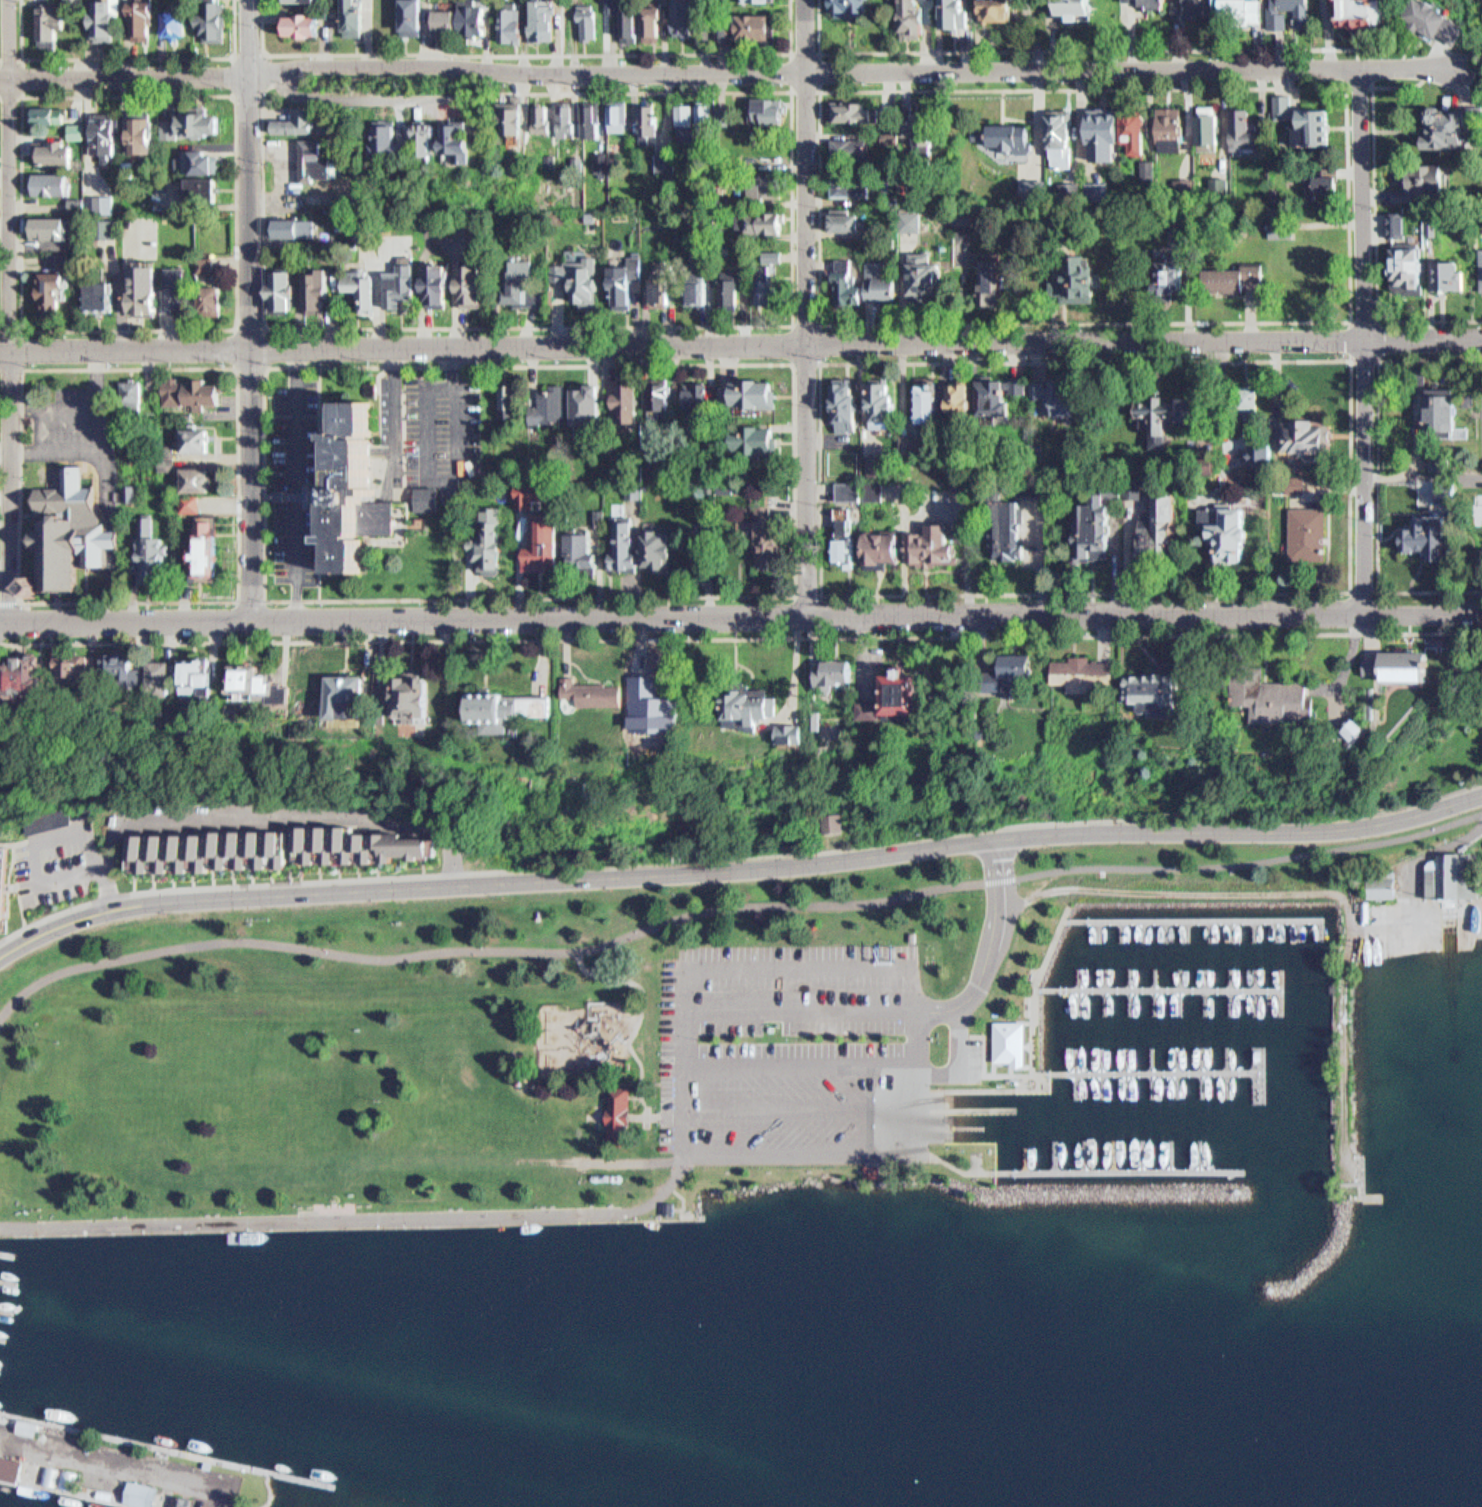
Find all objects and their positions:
building: (313, 1)
building: (765, 1)
building: (846, 4)
building: (1155, 5)
building: (1083, 6)
building: (1197, 9)
building: (1002, 10)
building: (1231, 10)
building: (944, 11)
building: (1370, 12)
building: (906, 14)
building: (961, 14)
building: (1299, 14)
building: (681, 15)
building: (582, 16)
building: (620, 16)
building: (421, 17)
building: (481, 17)
building: (539, 17)
building: (651, 17)
building: (363, 18)
building: (114, 20)
building: (751, 20)
building: (1455, 21)
building: (144, 22)
building: (454, 22)
building: (591, 22)
building: (54, 23)
building: (180, 23)
building: (509, 24)
building: (310, 25)
building: (219, 29)
building: (0, 32)
road: (1456, 46)
road: (1099, 48)
road: (527, 52)
road: (127, 57)
road: (1474, 66)
road: (732, 70)
road: (22, 76)
road: (1353, 80)
road: (819, 88)
road: (263, 89)
road: (363, 91)
building: (765, 106)
building: (847, 106)
building: (1288, 108)
building: (611, 112)
building: (540, 113)
building: (889, 114)
building: (48, 115)
building: (562, 115)
building: (587, 115)
building: (642, 117)
building: (682, 119)
building: (515, 120)
building: (571, 120)
building: (701, 120)
building: (924, 121)
building: (296, 122)
building: (196, 125)
building: (1209, 126)
building: (1322, 128)
building: (1173, 129)
building: (1249, 130)
building: (78, 131)
building: (982, 132)
building: (1463, 132)
building: (108, 134)
building: (144, 134)
building: (1122, 135)
building: (1064, 140)
building: (402, 141)
building: (1008, 141)
building: (477, 146)
building: (843, 148)
building: (62, 153)
building: (594, 156)
building: (661, 156)
building: (608, 157)
building: (320, 160)
building: (202, 161)
building: (846, 181)
building: (767, 182)
building: (58, 183)
building: (1433, 184)
building: (1333, 186)
building: (215, 187)
building: (1033, 187)
building: (885, 195)
building: (76, 205)
building: (843, 216)
building: (765, 218)
building: (877, 224)
building: (295, 228)
building: (50, 229)
building: (1404, 229)
building: (1286, 230)
road: (1382, 232)
building: (769, 250)
building: (775, 256)
building: (1181, 262)
building: (930, 273)
building: (624, 274)
building: (1434, 274)
building: (576, 276)
building: (844, 277)
building: (1088, 277)
building: (655, 278)
building: (886, 278)
building: (522, 279)
building: (760, 279)
building: (141, 280)
building: (1246, 280)
building: (58, 282)
building: (447, 282)
building: (996, 282)
building: (725, 284)
building: (472, 285)
building: (770, 285)
building: (408, 286)
building: (698, 286)
building: (179, 289)
building: (365, 291)
building: (287, 292)
building: (324, 292)
building: (107, 295)
building: (222, 300)
road: (807, 307)
road: (252, 309)
road: (10, 311)
road: (1354, 322)
road: (654, 325)
road: (235, 329)
road: (1366, 340)
road: (740, 344)
road: (23, 350)
road: (1354, 360)
road: (820, 362)
road: (266, 367)
road: (23, 371)
road: (462, 381)
road: (450, 382)
building: (1023, 386)
building: (620, 389)
building: (753, 389)
building: (655, 390)
building: (692, 390)
building: (997, 393)
building: (198, 394)
building: (701, 395)
building: (963, 395)
building: (506, 396)
building: (929, 397)
building: (547, 399)
building: (881, 400)
building: (846, 401)
road: (459, 403)
building: (586, 403)
building: (1064, 404)
building: (1451, 414)
building: (1170, 422)
road: (425, 424)
road: (296, 428)
road: (391, 429)
building: (1255, 433)
building: (755, 435)
building: (1310, 436)
road: (456, 439)
building: (199, 441)
building: (880, 460)
building: (958, 472)
road: (1381, 472)
building: (207, 480)
road: (323, 482)
building: (357, 484)
building: (1310, 485)
building: (858, 486)
building: (628, 487)
building: (531, 489)
building: (1038, 490)
building: (426, 502)
building: (1215, 518)
building: (848, 523)
building: (61, 525)
building: (1166, 527)
building: (1008, 531)
building: (1098, 531)
building: (706, 532)
building: (1313, 534)
building: (757, 537)
building: (538, 538)
building: (1237, 538)
building: (1438, 538)
building: (485, 539)
building: (774, 539)
building: (498, 540)
building: (615, 541)
building: (139, 545)
building: (192, 545)
building: (632, 545)
building: (651, 545)
building: (939, 545)
building: (571, 547)
building: (213, 548)
building: (891, 549)
building: (587, 550)
building: (666, 550)
building: (154, 551)
building: (851, 551)
building: (704, 552)
road: (297, 566)
road: (1353, 589)
road: (1355, 596)
road: (267, 599)
road: (254, 600)
road: (795, 601)
road: (19, 614)
road: (740, 616)
road: (5, 629)
road: (745, 636)
building: (62, 664)
building: (1387, 664)
building: (825, 666)
building: (1031, 666)
building: (1424, 666)
building: (88, 669)
building: (108, 670)
building: (1098, 674)
building: (16, 675)
building: (185, 675)
building: (147, 676)
building: (41, 678)
building: (215, 679)
building: (251, 684)
building: (277, 684)
building: (585, 688)
building: (890, 690)
building: (1168, 691)
building: (339, 693)
building: (921, 694)
building: (416, 695)
building: (374, 698)
building: (438, 700)
building: (1286, 702)
building: (737, 703)
building: (493, 704)
building: (858, 705)
building: (642, 707)
building: (663, 713)
building: (780, 728)
building: (1362, 731)
building: (806, 735)
building: (824, 815)
road: (1001, 818)
building: (262, 841)
road: (1355, 845)
road: (738, 867)
building: (1458, 872)
road: (254, 883)
building: (1388, 886)
road: (1313, 890)
building: (5, 891)
road: (1068, 919)
pier: (1196, 920)
road: (1001, 927)
road: (602, 939)
road: (1039, 975)
road: (1038, 987)
pier: (1163, 994)
road: (822, 1012)
parking lot: (770, 1026)
building: (1015, 1043)
park: (526, 1044)
road: (996, 1045)
road: (637, 1058)
road: (958, 1062)
road: (800, 1063)
road: (987, 1072)
pier: (1158, 1077)
road: (662, 1081)
road: (684, 1100)
parking lot: (810, 1109)
road: (793, 1110)
pier: (991, 1110)
building: (619, 1114)
road: (661, 1115)
pier: (977, 1126)
building: (876, 1170)
pier: (1123, 1171)
building: (672, 1208)
road: (356, 1219)
pier: (14, 1259)
pier: (11, 1277)
pier: (10, 1301)
pier: (1, 1363)
building: (33, 1425)
pier: (129, 1466)
building: (14, 1468)
building: (50, 1475)
building: (70, 1477)
building: (146, 1493)
building: (114, 1496)
building: (184, 1500)

